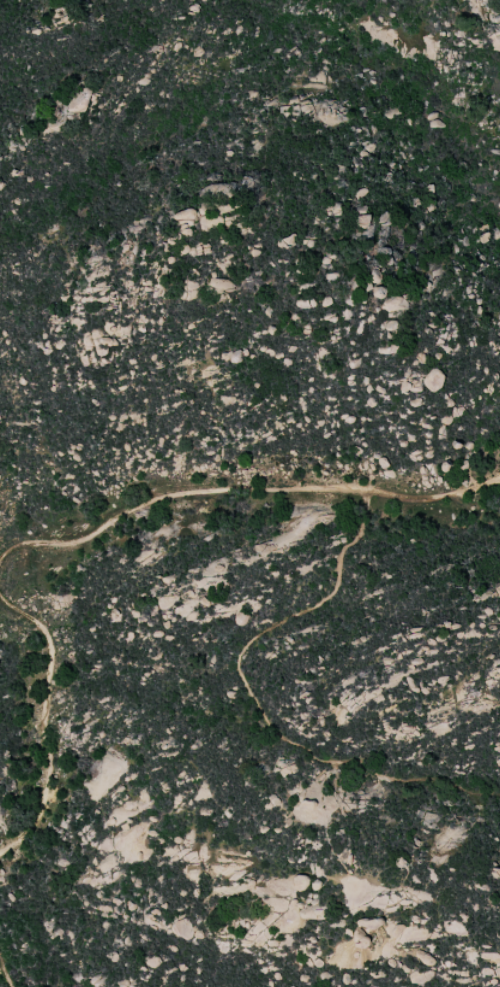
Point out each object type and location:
road: (241, 490)
park: (250, 493)
road: (257, 703)
road: (48, 725)
road: (8, 971)

